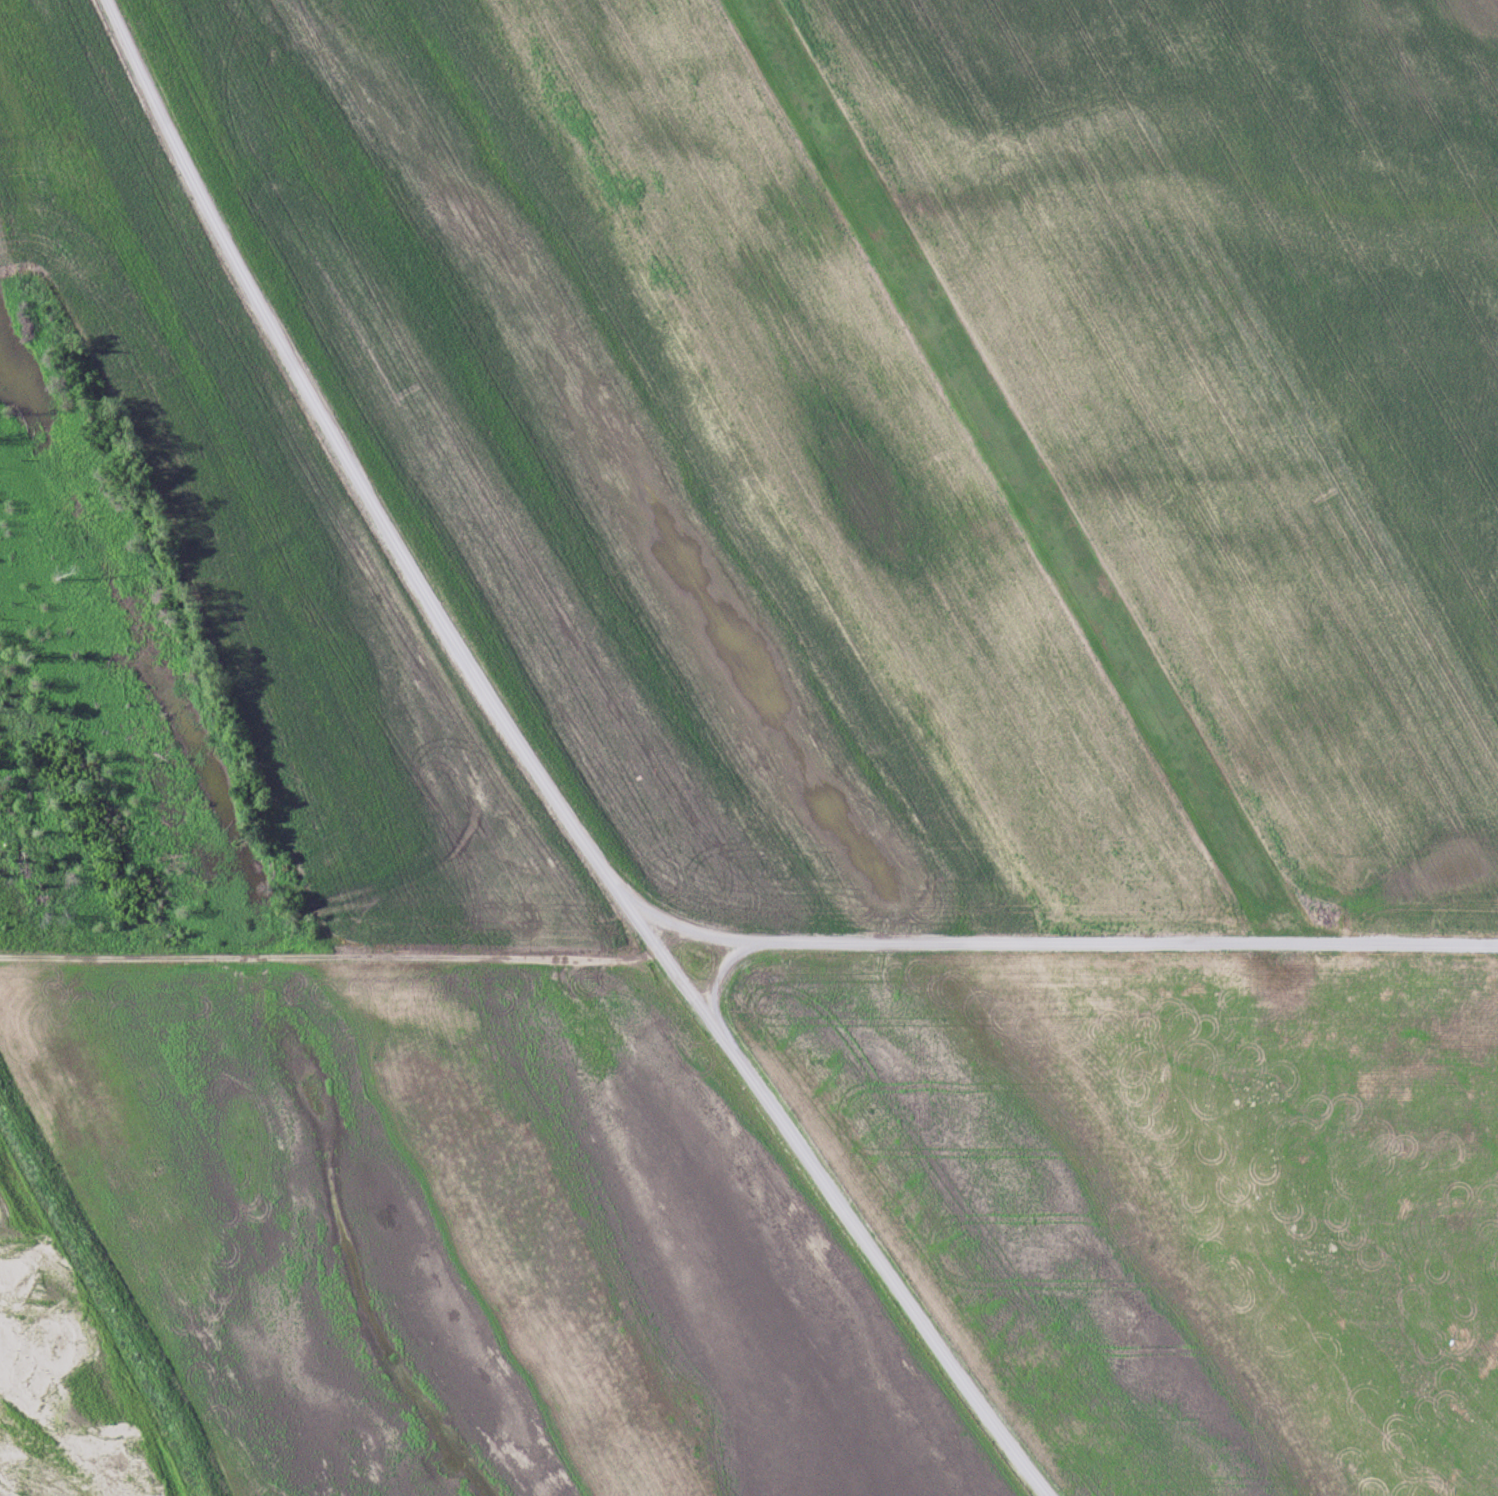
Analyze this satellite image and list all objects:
road: (541, 771)
road: (1055, 944)
road: (722, 969)

